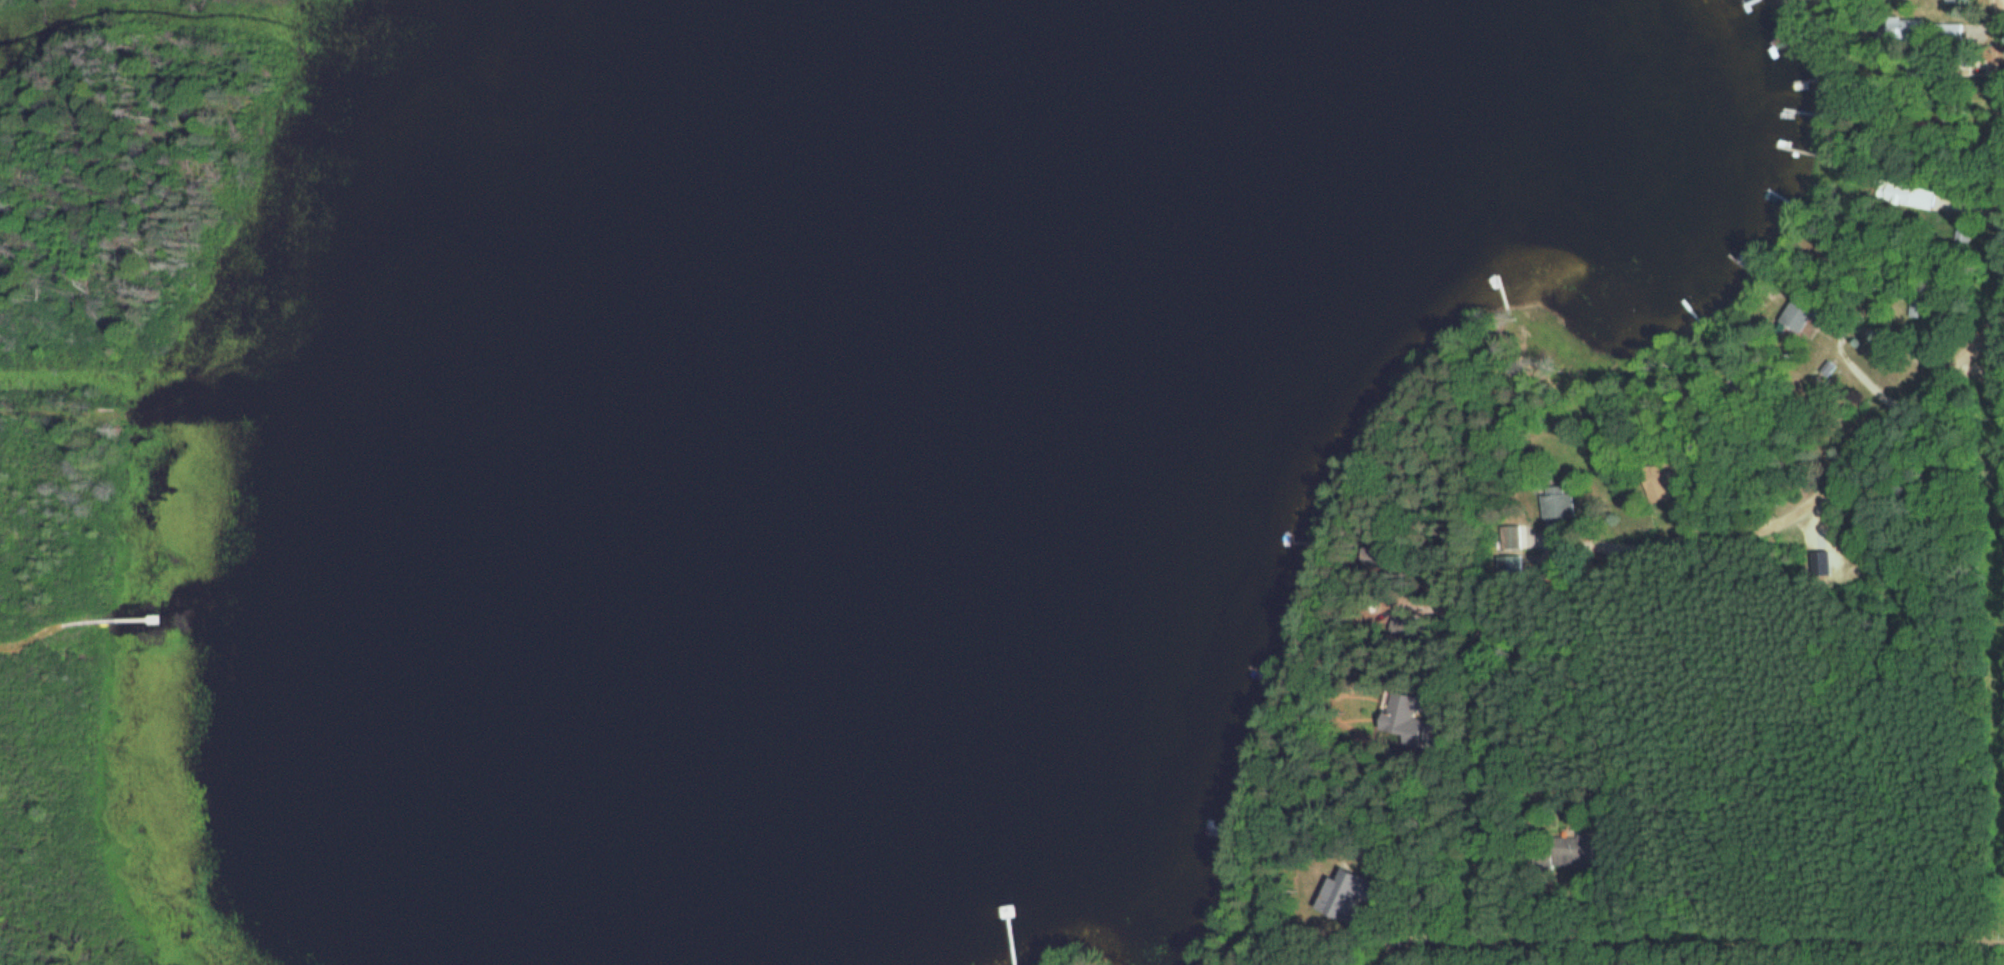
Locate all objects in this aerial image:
building: (1897, 26)
building: (1946, 32)
road: (2003, 44)
building: (1905, 194)
building: (1792, 318)
road: (1838, 470)
building: (1552, 503)
building: (1507, 537)
building: (1396, 714)
road: (1360, 830)
building: (1566, 850)

